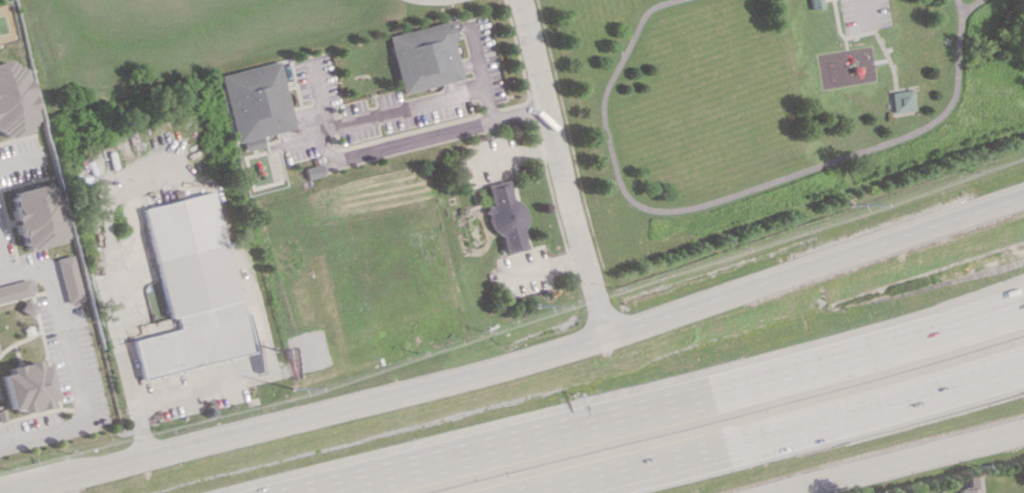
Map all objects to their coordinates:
building: (814, 4)
road: (955, 8)
road: (967, 8)
parking lot: (862, 15)
road: (873, 35)
road: (862, 44)
building: (424, 56)
building: (13, 101)
building: (901, 101)
building: (255, 103)
park: (773, 107)
road: (329, 154)
road: (562, 167)
road: (723, 199)
building: (34, 216)
building: (504, 219)
road: (0, 271)
building: (67, 279)
building: (190, 288)
building: (14, 290)
road: (59, 325)
road: (517, 361)
road: (606, 363)
building: (24, 386)
road: (166, 389)
road: (673, 405)
road: (775, 430)
road: (43, 436)
road: (899, 462)
building: (970, 485)
road: (778, 490)

